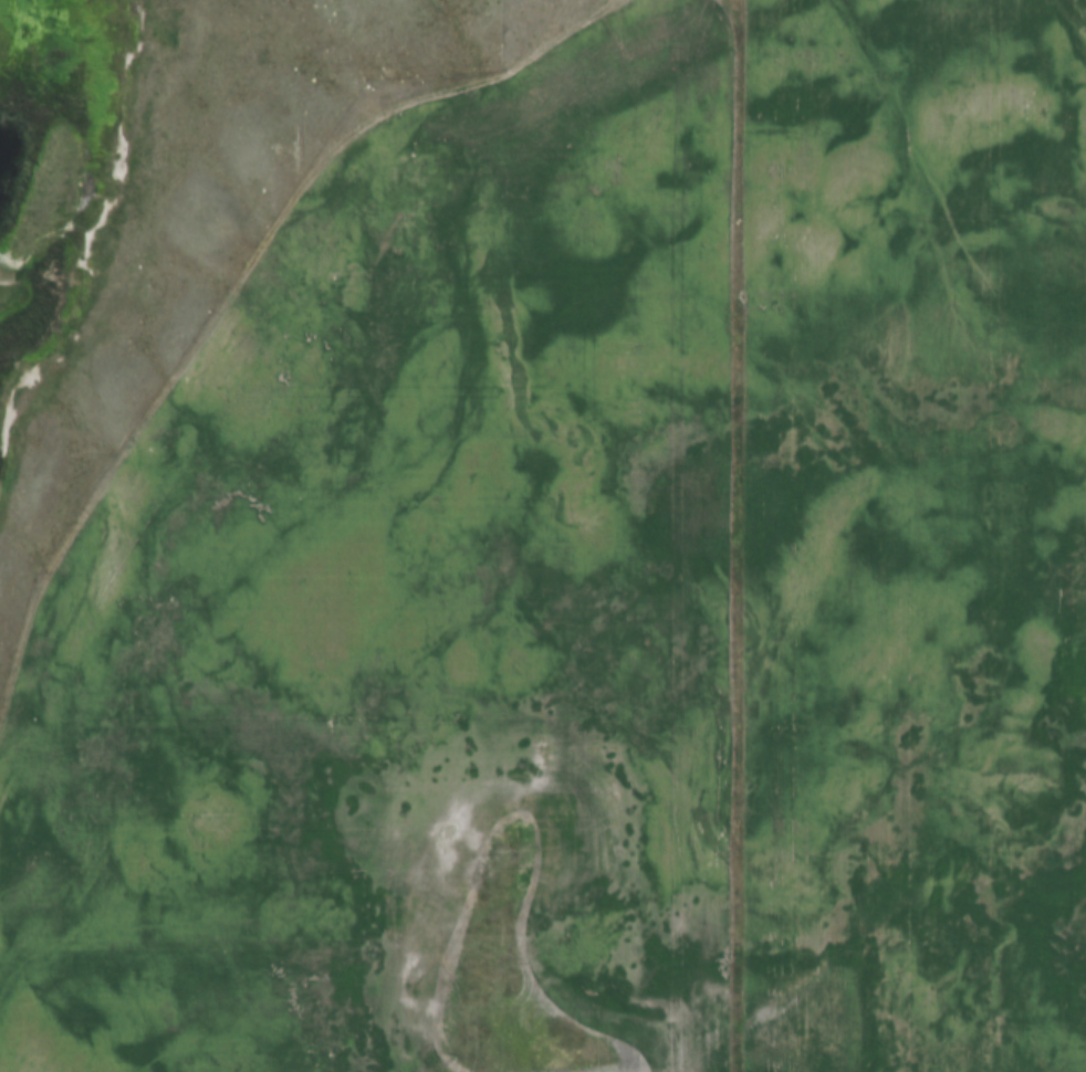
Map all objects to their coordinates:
road: (733, 536)

